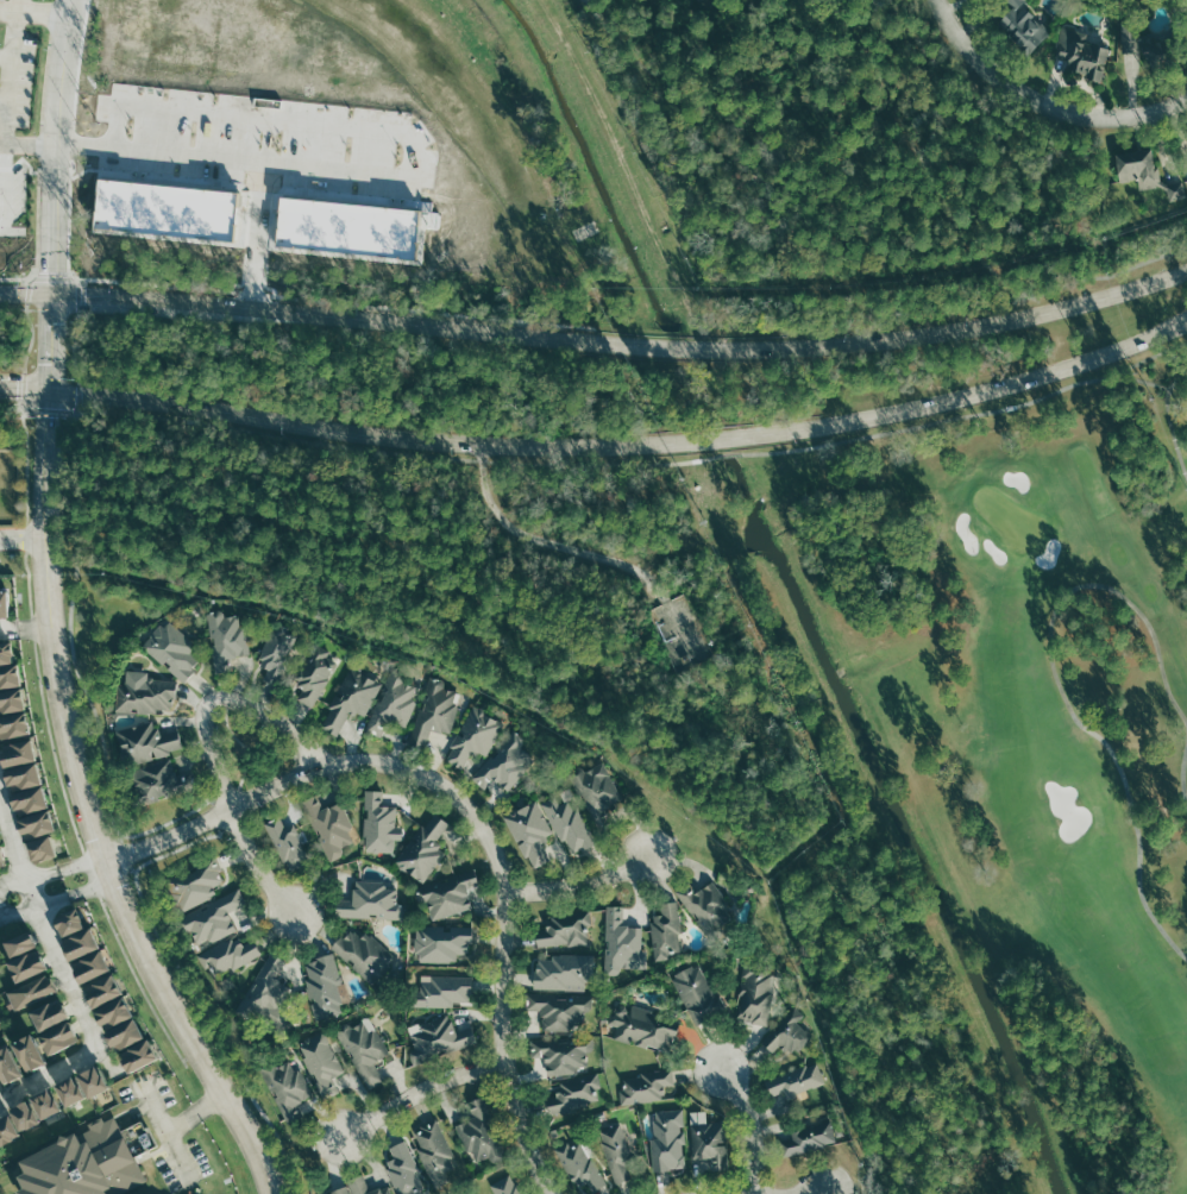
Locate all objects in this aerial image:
road: (11, 8)
road: (46, 13)
building: (1024, 25)
building: (1141, 40)
building: (1086, 55)
road: (7, 56)
road: (13, 70)
parking lot: (14, 71)
road: (1075, 81)
road: (5, 99)
road: (1041, 102)
road: (25, 143)
road: (51, 144)
building: (1145, 171)
road: (879, 174)
road: (4, 181)
road: (13, 277)
road: (55, 277)
traffic signals: (54, 291)
road: (31, 338)
road: (596, 339)
road: (73, 346)
road: (1145, 382)
traffic signals: (52, 391)
road: (10, 408)
road: (42, 408)
road: (1169, 421)
road: (599, 444)
road: (639, 463)
road: (27, 465)
park: (1009, 517)
road: (21, 540)
road: (579, 553)
building: (1, 596)
road: (24, 628)
building: (219, 636)
building: (168, 647)
building: (6, 652)
building: (272, 652)
building: (10, 674)
building: (312, 675)
road: (1060, 685)
building: (144, 691)
road: (218, 697)
building: (12, 698)
building: (348, 698)
building: (394, 698)
building: (433, 708)
building: (13, 723)
building: (471, 735)
building: (146, 737)
building: (19, 750)
road: (74, 762)
building: (503, 762)
park: (1047, 766)
road: (1182, 774)
building: (24, 775)
building: (153, 780)
building: (595, 790)
building: (31, 799)
road: (68, 805)
road: (176, 817)
building: (378, 819)
building: (37, 822)
road: (113, 822)
building: (569, 823)
building: (326, 825)
road: (482, 830)
building: (529, 830)
building: (283, 841)
building: (43, 844)
road: (184, 844)
building: (422, 844)
road: (125, 854)
building: (2, 856)
building: (0, 863)
road: (258, 865)
road: (50, 872)
building: (195, 880)
road: (579, 881)
building: (441, 894)
road: (58, 898)
building: (366, 899)
building: (704, 909)
building: (71, 919)
building: (207, 920)
building: (564, 928)
building: (666, 931)
building: (19, 938)
building: (82, 941)
building: (439, 942)
building: (621, 942)
building: (360, 951)
building: (224, 956)
building: (27, 962)
building: (92, 963)
building: (561, 970)
road: (64, 972)
building: (324, 984)
building: (105, 987)
building: (439, 987)
building: (269, 989)
building: (30, 992)
building: (697, 992)
building: (755, 993)
building: (559, 1008)
building: (115, 1010)
building: (49, 1011)
building: (643, 1028)
building: (789, 1030)
building: (125, 1032)
building: (57, 1036)
building: (435, 1036)
building: (360, 1044)
building: (31, 1050)
building: (564, 1051)
building: (138, 1054)
building: (318, 1055)
building: (10, 1063)
building: (795, 1079)
building: (95, 1080)
building: (283, 1082)
building: (646, 1086)
building: (74, 1089)
road: (416, 1091)
building: (574, 1092)
building: (48, 1102)
road: (195, 1112)
building: (26, 1116)
road: (747, 1125)
building: (7, 1129)
road: (168, 1129)
building: (473, 1131)
building: (806, 1137)
building: (668, 1139)
building: (709, 1142)
building: (431, 1146)
building: (615, 1151)
building: (579, 1164)
building: (400, 1165)
building: (81, 1168)
building: (505, 1184)
building: (356, 1187)
building: (333, 1190)
building: (473, 1193)
road: (815, 1193)

